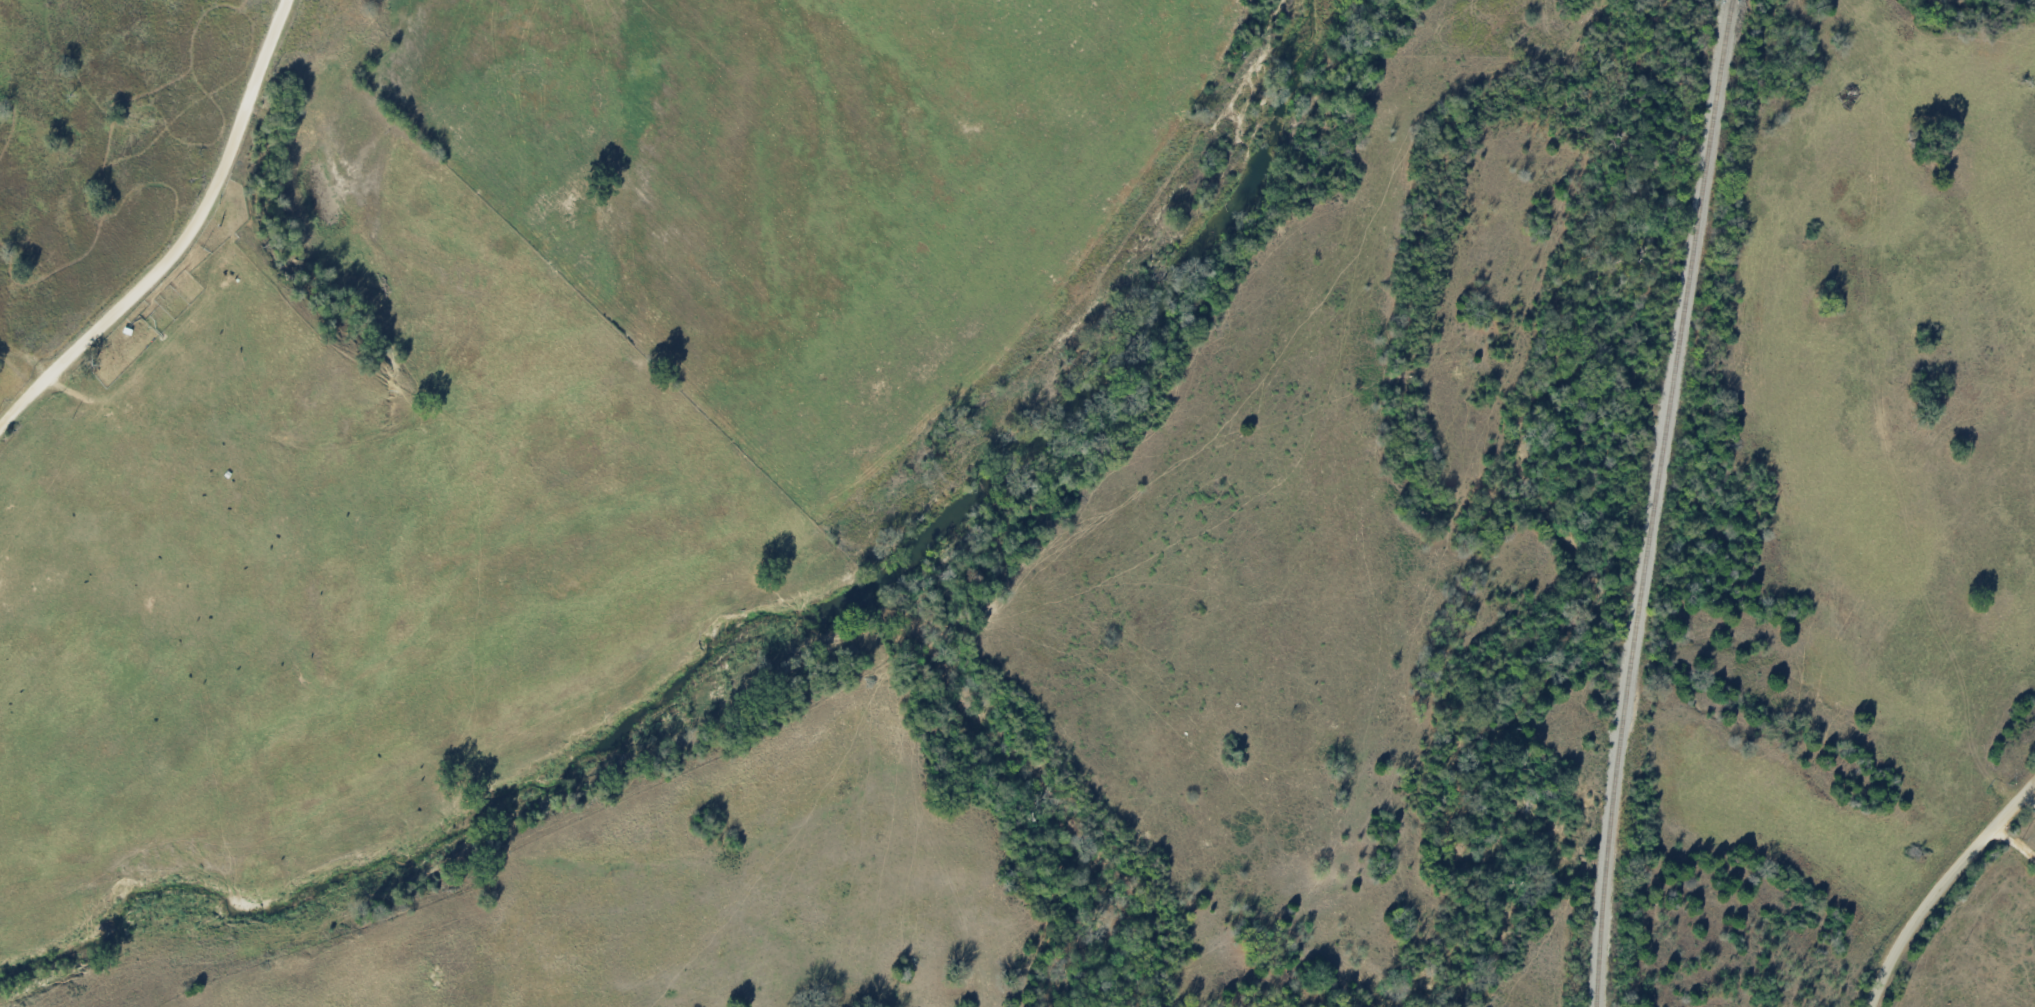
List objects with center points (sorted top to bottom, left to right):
road: (115, 151)
road: (183, 241)
road: (178, 433)
railway: (1654, 502)
road: (2031, 798)
road: (2015, 845)
road: (1940, 887)

